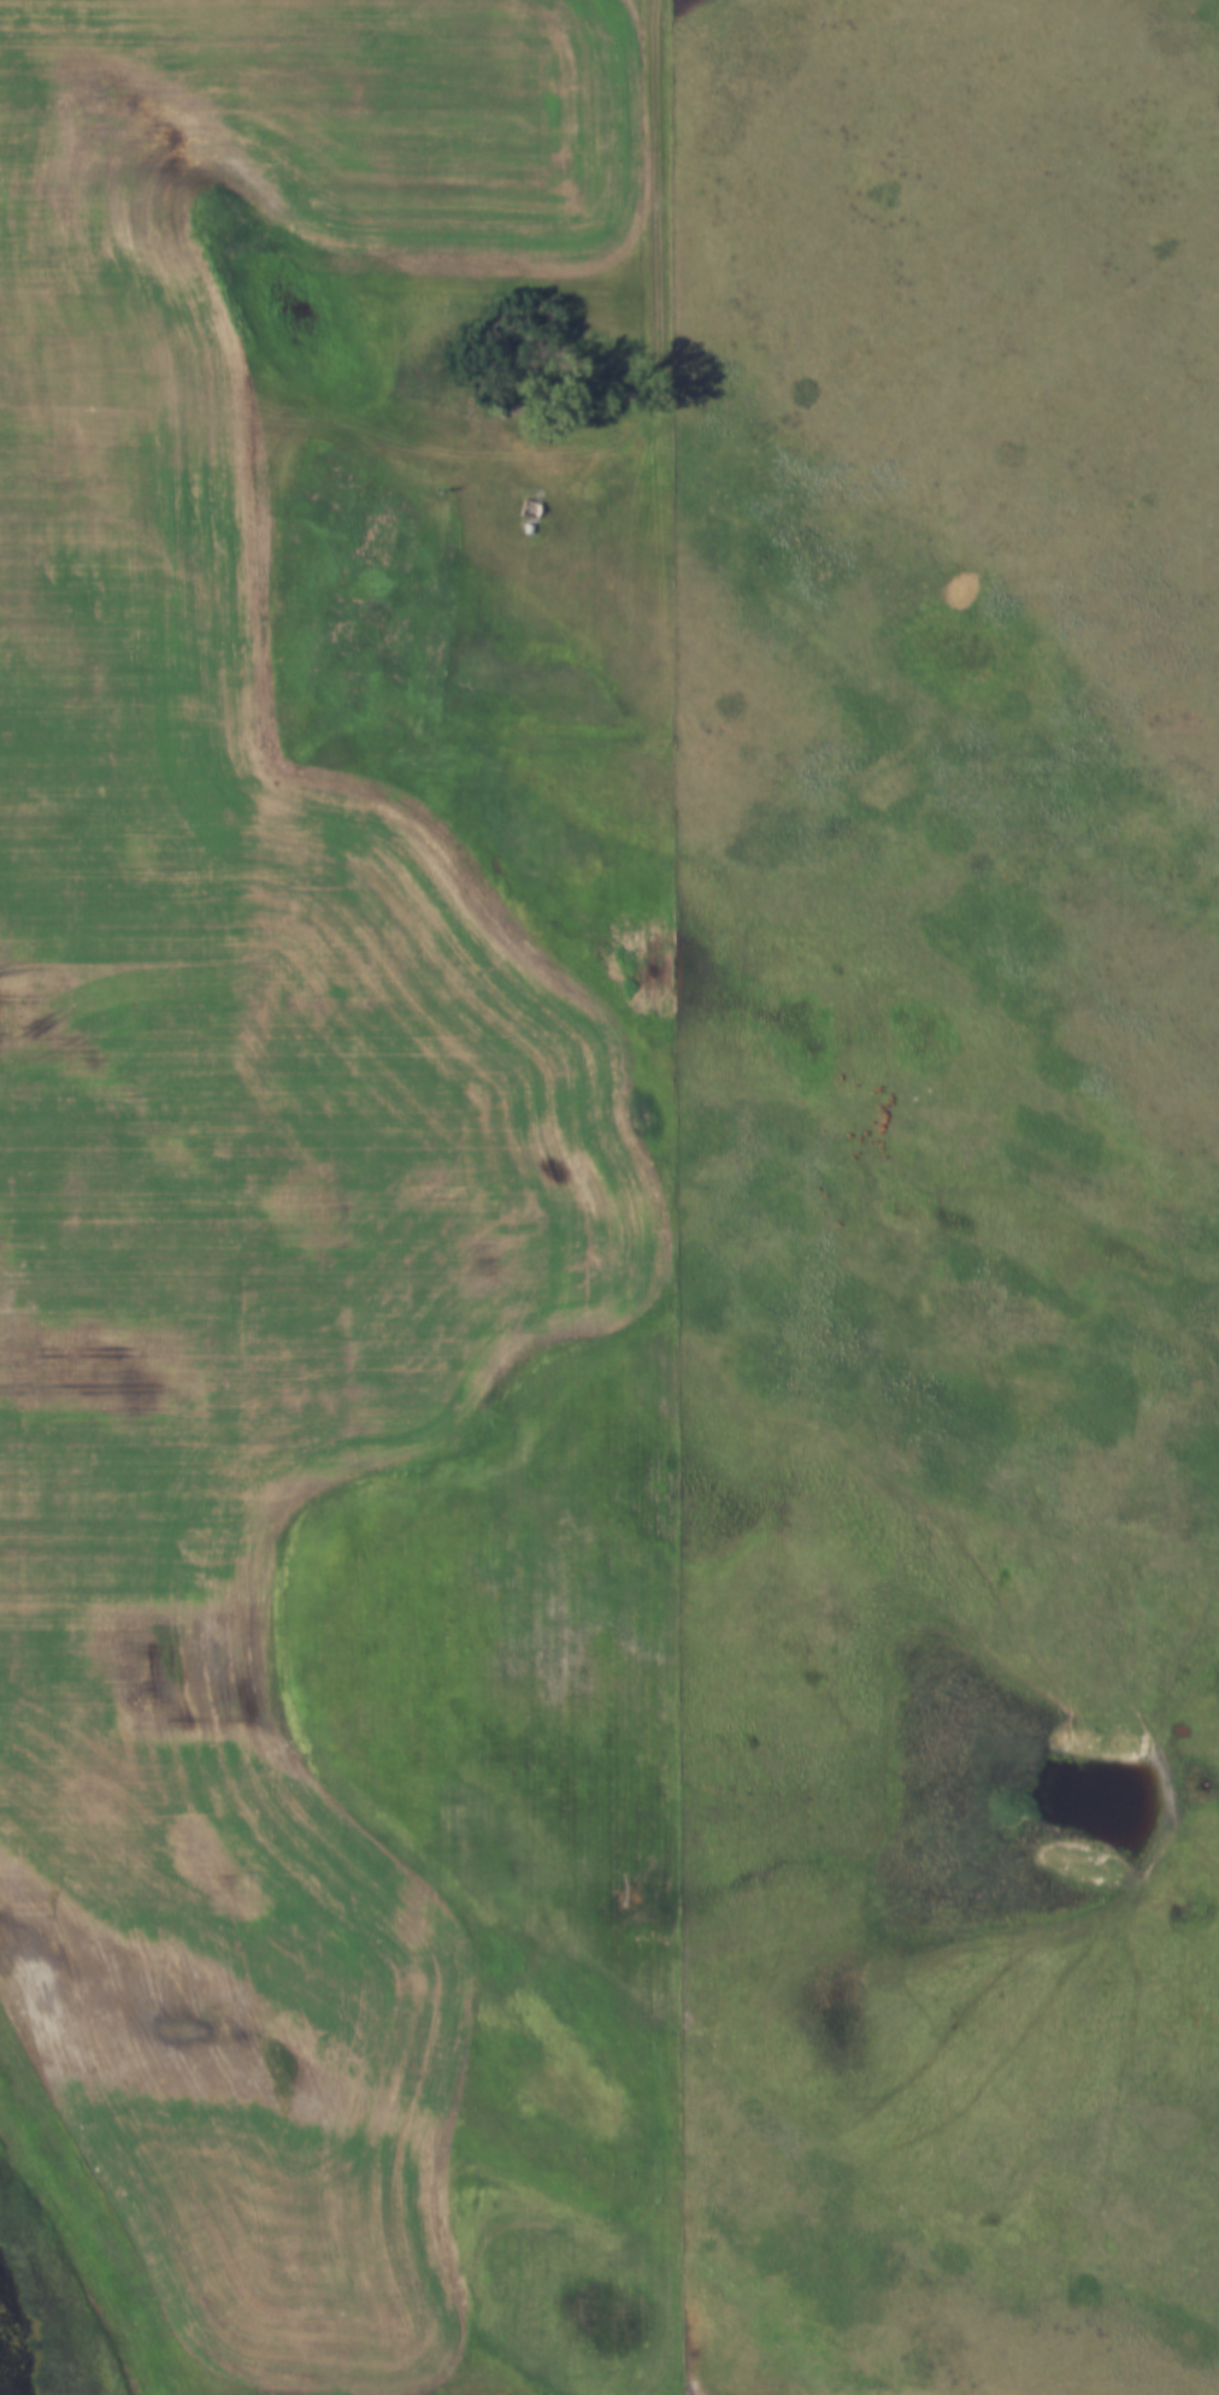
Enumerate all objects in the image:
road: (664, 208)
building: (526, 510)

